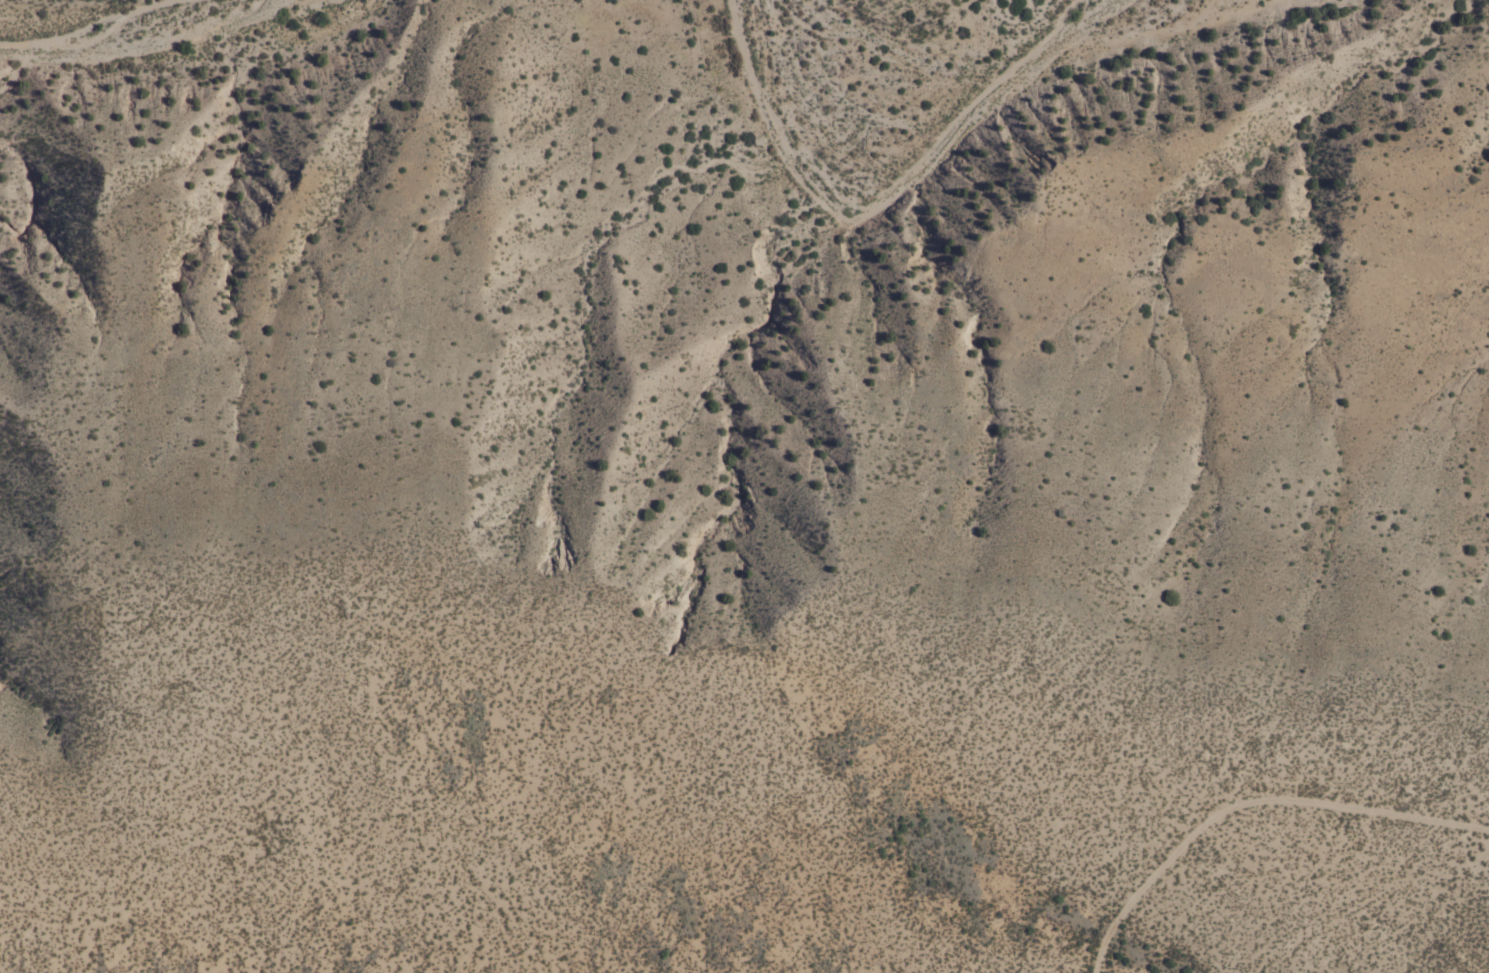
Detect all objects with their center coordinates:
road: (1247, 799)

